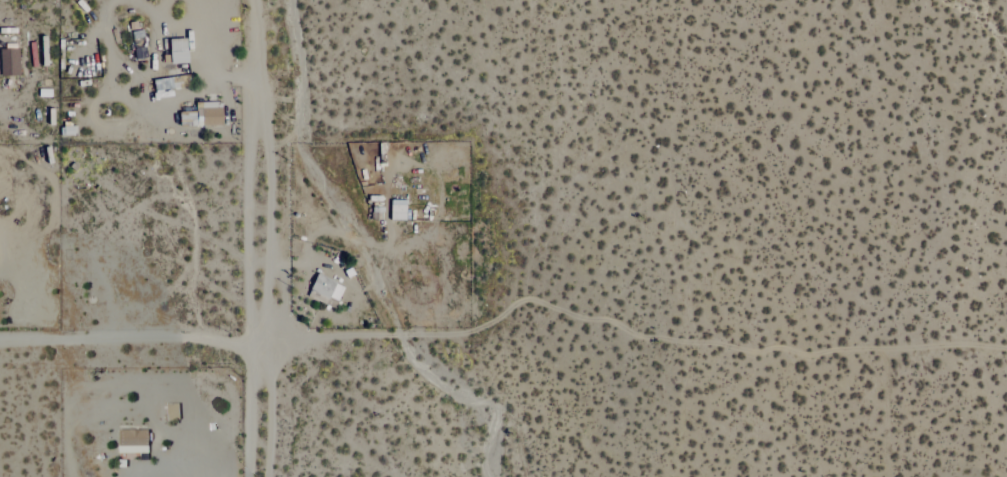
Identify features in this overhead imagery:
building: (8, 62)
building: (199, 116)
road: (256, 238)
building: (325, 287)
road: (194, 339)
building: (131, 441)

